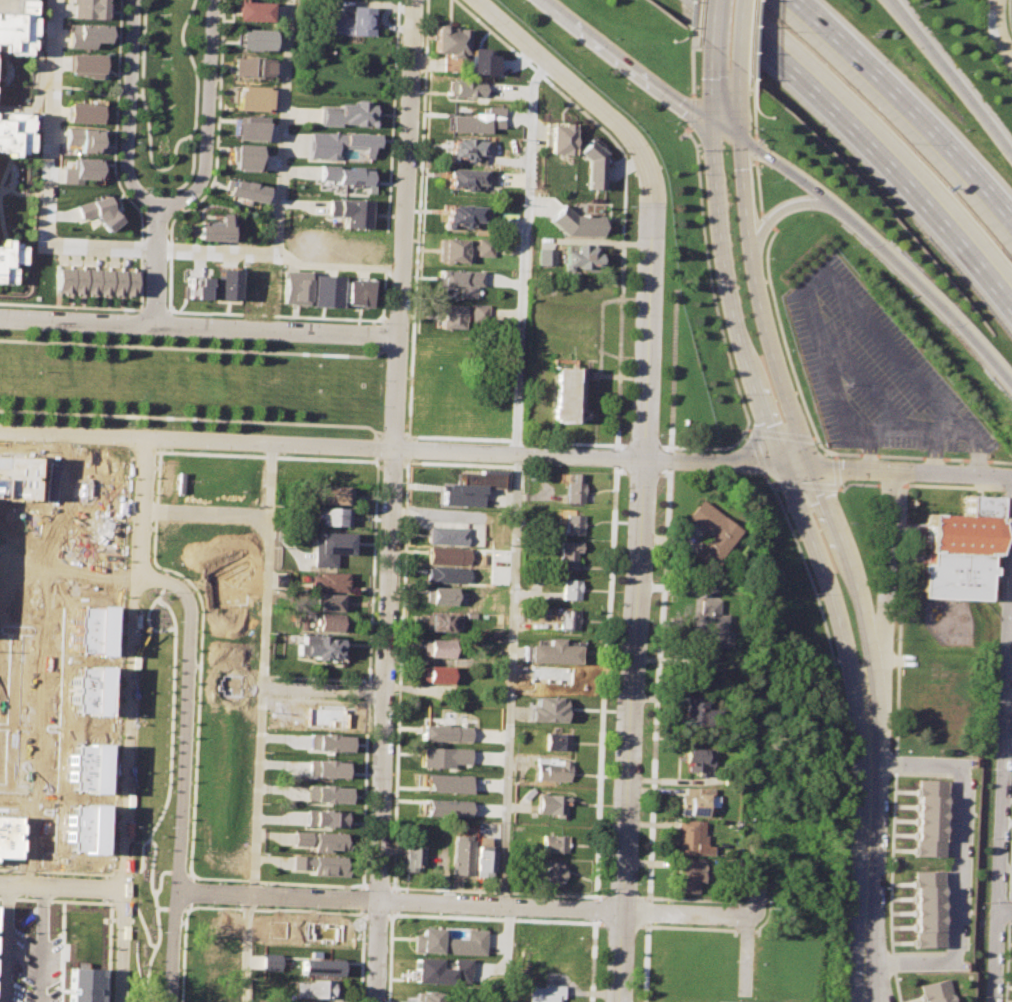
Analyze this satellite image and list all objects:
building: (16, 6)
parking garage: (16, 6)
building: (91, 9)
building: (253, 11)
building: (348, 22)
road: (715, 22)
road: (999, 27)
road: (742, 32)
building: (15, 33)
building: (86, 34)
building: (254, 39)
building: (448, 41)
building: (478, 62)
building: (84, 64)
building: (249, 66)
road: (642, 70)
road: (951, 78)
road: (574, 86)
building: (469, 90)
road: (94, 93)
park: (167, 95)
building: (252, 97)
road: (740, 102)
road: (910, 107)
road: (128, 108)
building: (82, 112)
building: (343, 115)
road: (206, 116)
building: (473, 119)
traffic signals: (713, 122)
building: (247, 127)
road: (216, 133)
building: (13, 134)
building: (556, 138)
building: (83, 139)
traffic signals: (740, 139)
building: (337, 144)
building: (462, 149)
road: (872, 149)
building: (243, 157)
building: (591, 164)
road: (167, 167)
road: (405, 167)
building: (80, 170)
building: (346, 176)
road: (188, 177)
building: (463, 179)
road: (623, 187)
building: (244, 189)
building: (348, 210)
building: (98, 211)
road: (778, 212)
building: (459, 216)
road: (140, 220)
building: (572, 222)
building: (216, 228)
road: (166, 248)
building: (461, 250)
road: (884, 253)
building: (544, 256)
building: (8, 258)
building: (580, 259)
road: (156, 263)
road: (338, 265)
building: (91, 281)
building: (459, 281)
building: (226, 283)
building: (294, 286)
building: (194, 287)
building: (322, 288)
building: (353, 292)
building: (459, 314)
road: (199, 325)
road: (199, 348)
parking lot: (872, 372)
park: (191, 383)
road: (756, 387)
road: (397, 392)
building: (563, 396)
road: (791, 409)
road: (195, 419)
road: (937, 433)
street lamp: (819, 440)
road: (197, 441)
street lamp: (721, 445)
road: (869, 449)
road: (978, 451)
road: (934, 454)
road: (611, 457)
street lamp: (879, 458)
road: (603, 459)
street lamp: (966, 464)
traffic signals: (783, 468)
traffic signals: (812, 468)
road: (912, 472)
building: (14, 475)
building: (166, 477)
road: (516, 480)
building: (467, 489)
building: (571, 489)
street lamp: (771, 492)
road: (136, 495)
building: (339, 495)
road: (202, 516)
building: (336, 517)
street lamp: (848, 521)
building: (569, 524)
building: (710, 532)
building: (445, 536)
building: (186, 539)
building: (331, 549)
building: (959, 550)
building: (565, 553)
building: (442, 555)
road: (884, 572)
building: (442, 575)
building: (331, 583)
road: (140, 585)
building: (567, 589)
building: (230, 591)
street lamp: (812, 594)
road: (634, 595)
building: (439, 596)
building: (333, 603)
building: (566, 619)
building: (438, 621)
building: (329, 623)
building: (304, 624)
building: (707, 625)
building: (92, 630)
street lamp: (894, 638)
building: (319, 648)
building: (437, 648)
building: (550, 652)
road: (262, 670)
building: (695, 672)
building: (435, 674)
building: (548, 675)
road: (602, 683)
building: (229, 684)
building: (90, 689)
road: (324, 691)
road: (870, 694)
building: (545, 709)
building: (695, 712)
street lamp: (838, 712)
building: (326, 716)
road: (384, 725)
building: (442, 733)
road: (870, 737)
building: (557, 741)
building: (324, 743)
street lamp: (930, 756)
building: (439, 757)
building: (697, 759)
road: (177, 766)
building: (87, 767)
building: (324, 768)
building: (551, 770)
road: (120, 776)
building: (441, 782)
street lamp: (887, 787)
building: (527, 793)
street lamp: (1011, 793)
park: (149, 794)
building: (324, 794)
building: (693, 801)
building: (551, 804)
building: (440, 808)
road: (1004, 809)
building: (323, 818)
building: (927, 820)
building: (85, 827)
building: (10, 836)
building: (687, 837)
building: (317, 841)
building: (551, 843)
building: (411, 854)
building: (459, 856)
road: (957, 861)
building: (318, 864)
building: (481, 866)
building: (551, 873)
building: (688, 875)
road: (868, 881)
road: (57, 887)
street lamp: (883, 888)
street lamp: (1006, 898)
road: (460, 904)
road: (593, 908)
building: (925, 909)
road: (1006, 913)
building: (275, 928)
building: (213, 930)
building: (319, 930)
building: (450, 942)
road: (3, 943)
building: (547, 943)
road: (39, 944)
road: (241, 949)
road: (743, 952)
street lamp: (960, 952)
road: (591, 959)
building: (211, 960)
building: (269, 962)
building: (316, 967)
building: (547, 968)
building: (435, 971)
street lamp: (842, 971)
building: (83, 984)
building: (932, 991)
building: (314, 993)
building: (543, 993)
building: (421, 997)
road: (867, 999)
parking lot: (726, 1001)

